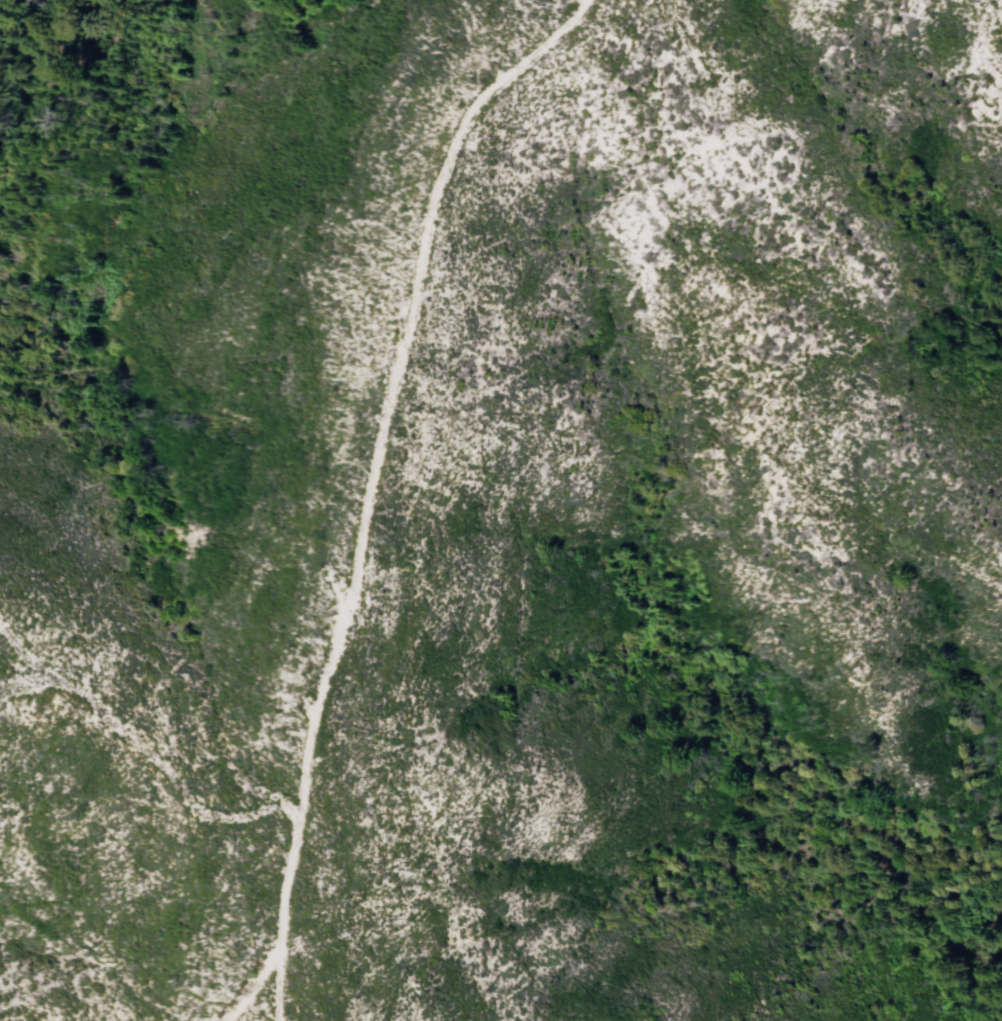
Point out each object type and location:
road: (360, 478)
road: (245, 989)

